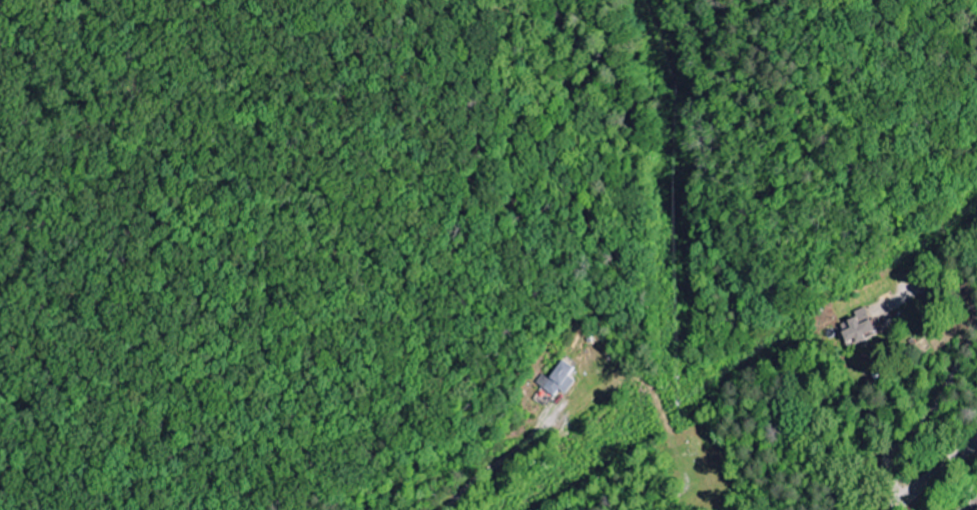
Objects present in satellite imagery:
building: (860, 327)
building: (559, 379)
road: (933, 475)
railway: (972, 506)

